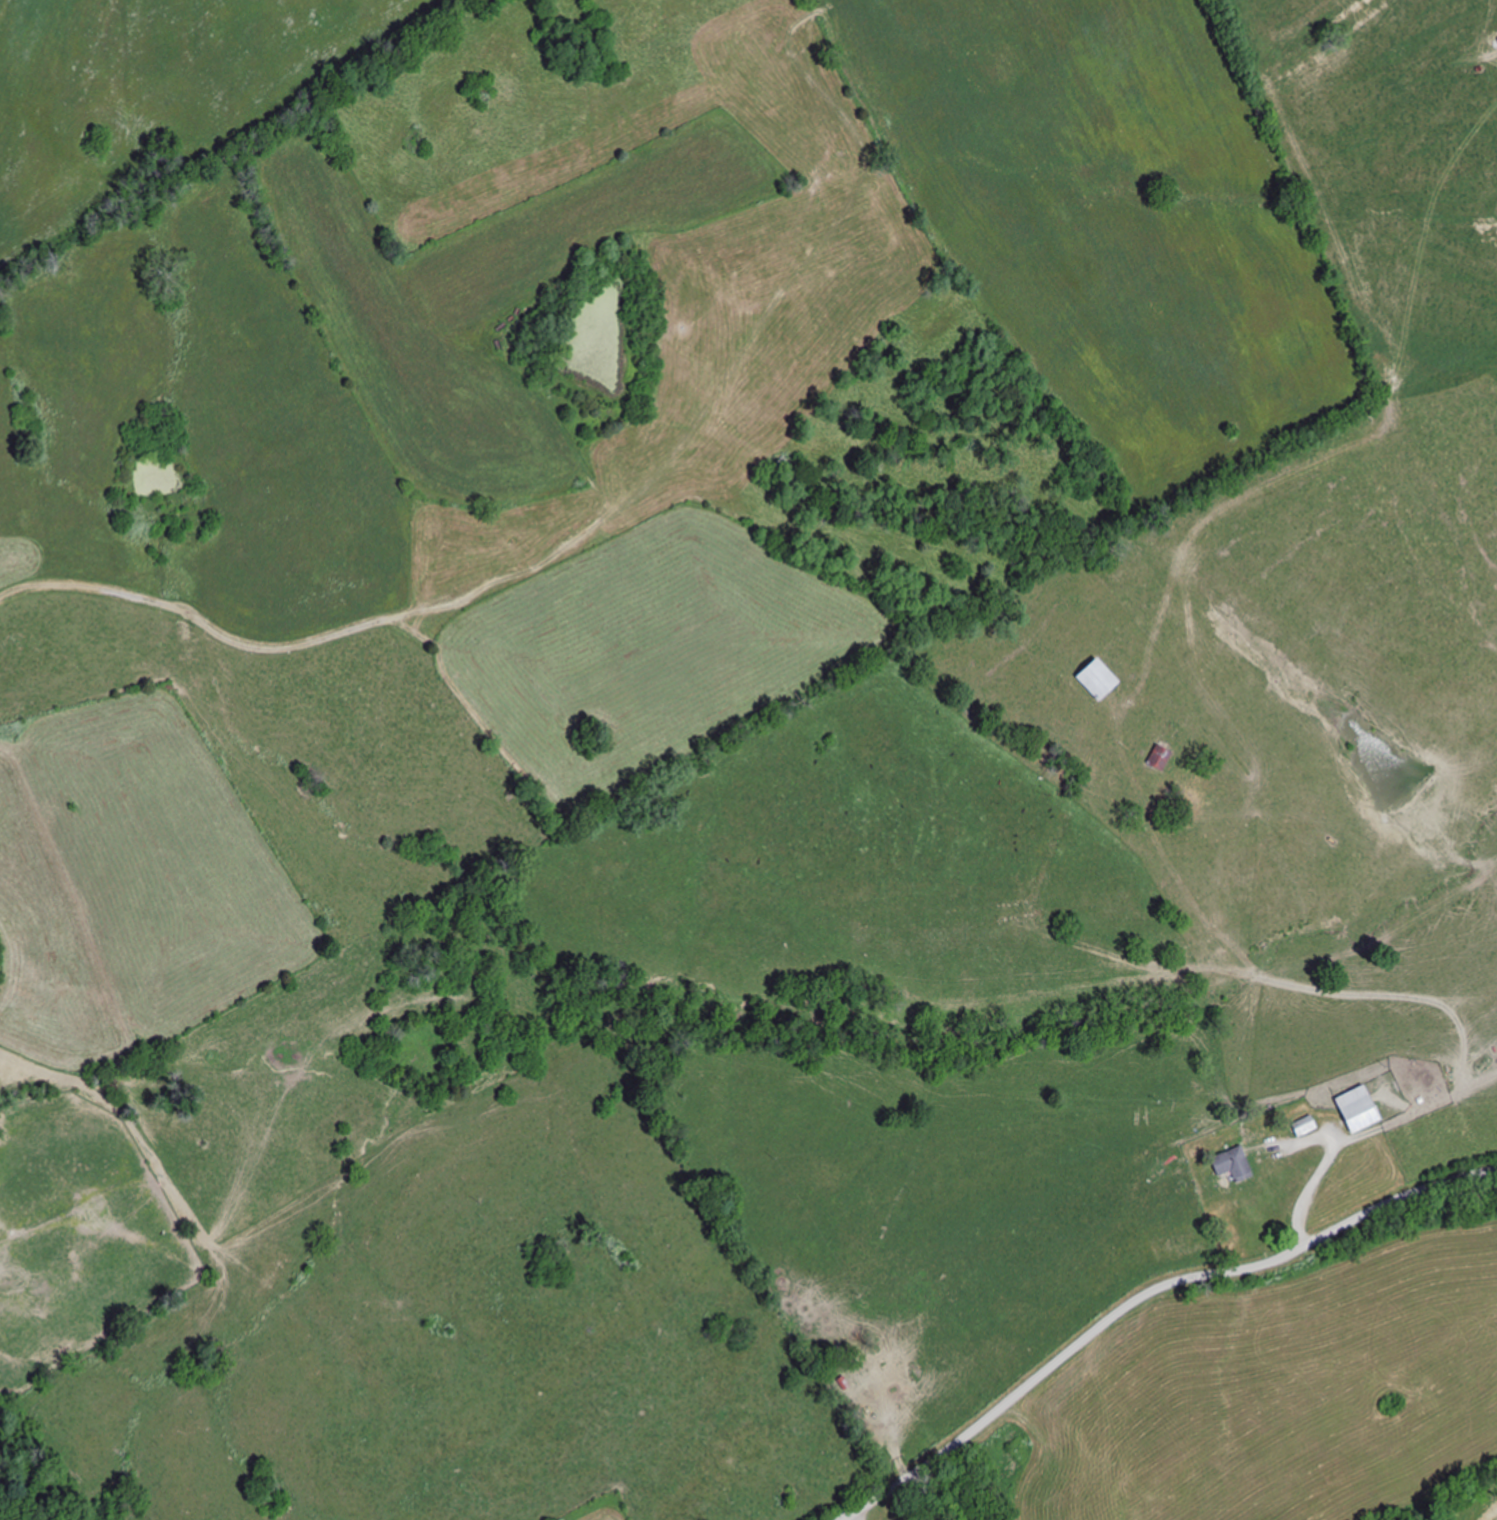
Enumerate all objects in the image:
building: (1105, 679)
building: (1165, 754)
building: (1364, 1109)
building: (1310, 1126)
building: (1236, 1165)
road: (1142, 1296)
building: (878, 1399)

